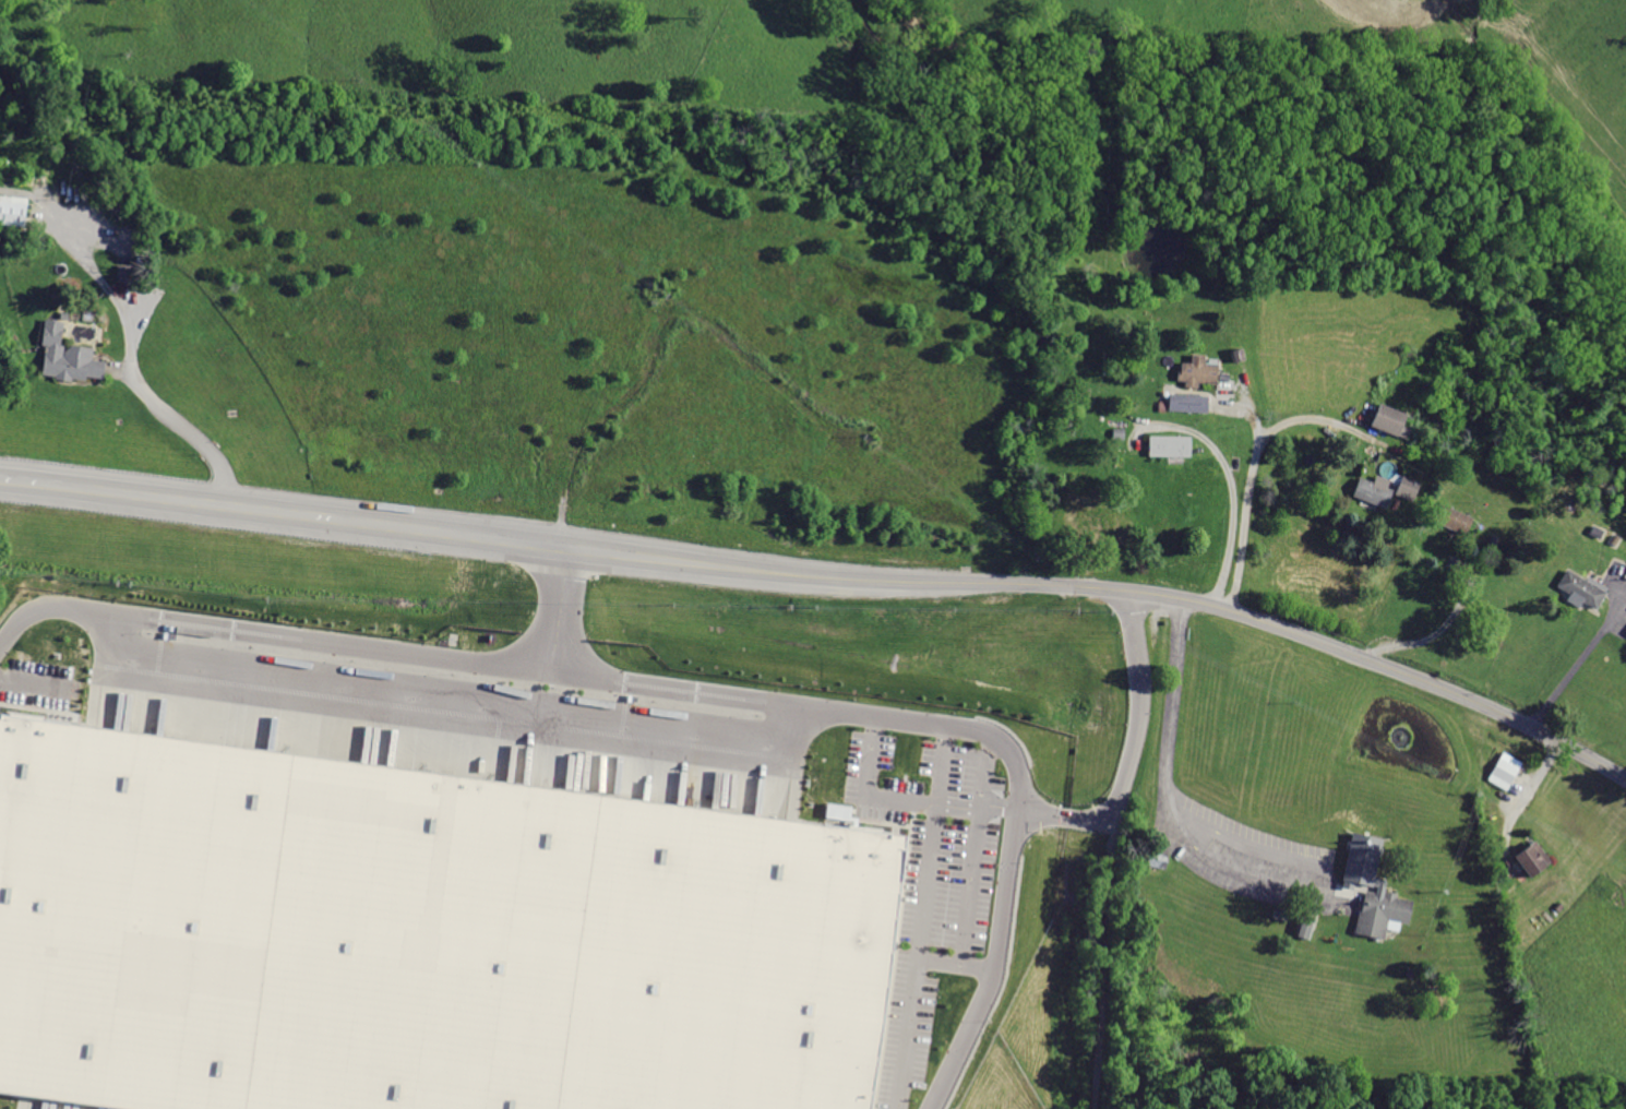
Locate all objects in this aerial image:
building: (13, 213)
building: (129, 273)
road: (129, 354)
building: (70, 355)
road: (118, 367)
building: (1196, 371)
building: (1187, 402)
building: (1389, 420)
building: (1169, 445)
road: (1253, 473)
road: (31, 480)
building: (1407, 487)
road: (1233, 488)
building: (1373, 490)
road: (314, 516)
building: (1454, 518)
building: (1102, 523)
road: (827, 577)
building: (1580, 588)
road: (45, 607)
road: (558, 610)
road: (1439, 631)
building: (1625, 632)
road: (325, 641)
road: (1365, 657)
road: (1577, 667)
road: (37, 681)
road: (674, 688)
road: (449, 689)
road: (1171, 704)
fountain: (1402, 732)
road: (941, 763)
building: (1505, 768)
road: (982, 772)
road: (866, 789)
road: (977, 808)
road: (1067, 816)
road: (1015, 830)
road: (1112, 848)
building: (1530, 860)
road: (926, 880)
road: (969, 885)
road: (1320, 885)
building: (1372, 887)
building: (420, 935)
road: (955, 962)
road: (906, 1033)

